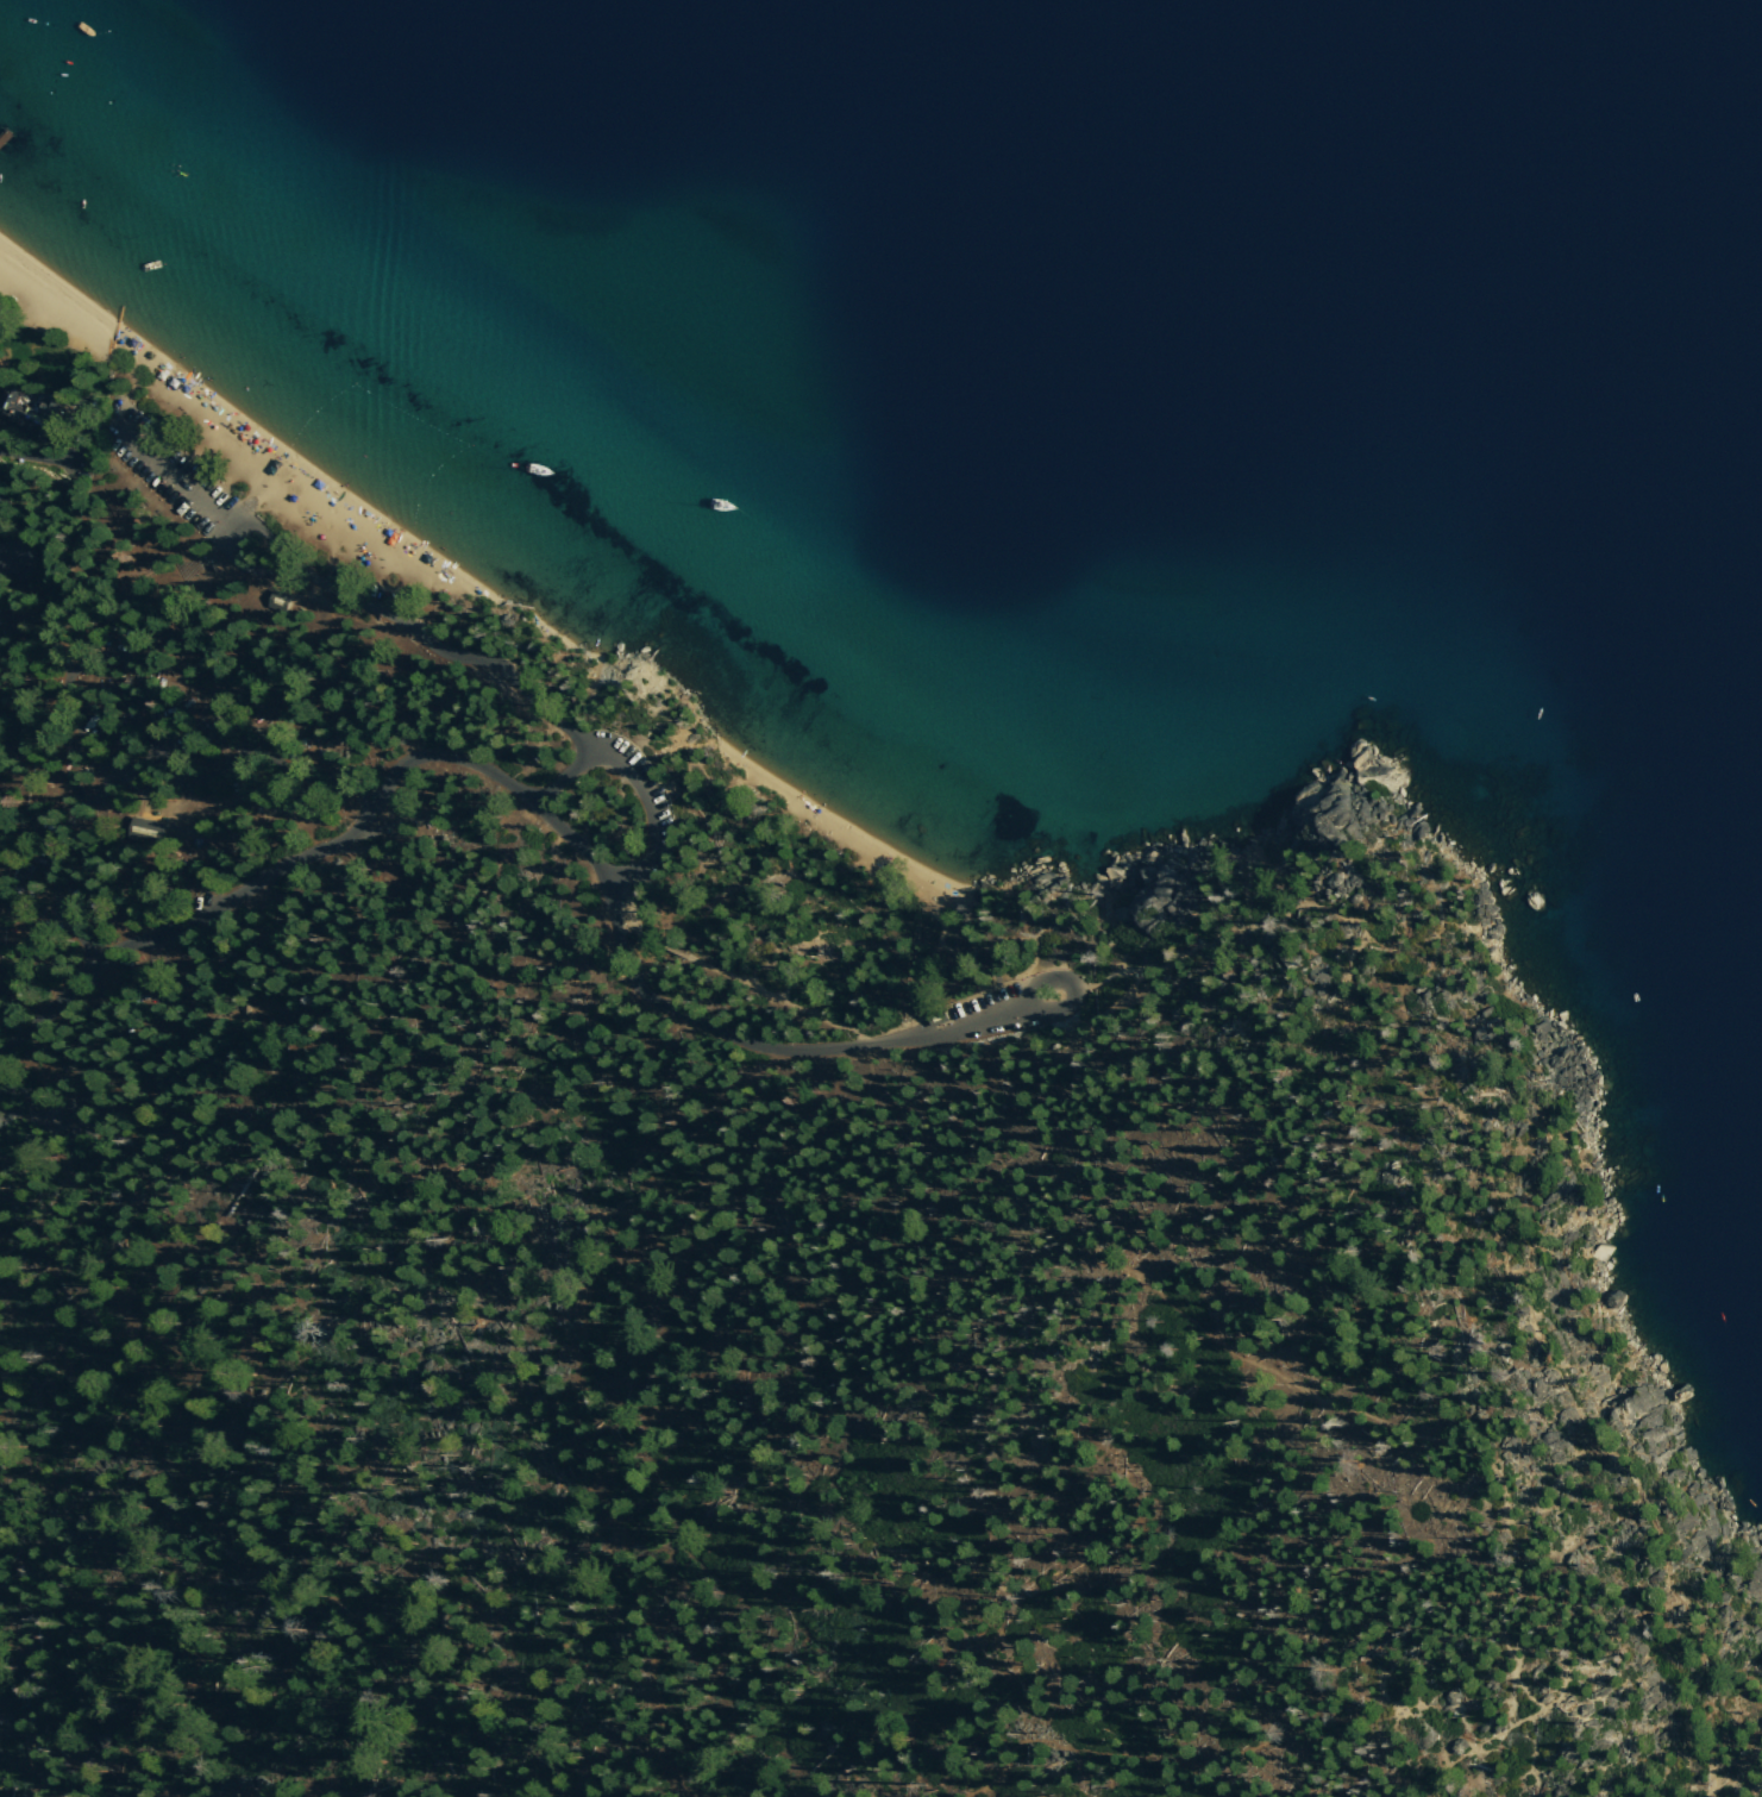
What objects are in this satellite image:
pier: (6, 134)
parking lot: (175, 477)
road: (188, 538)
road: (8, 562)
building: (281, 600)
road: (382, 612)
road: (94, 659)
road: (139, 766)
road: (479, 769)
road: (638, 799)
parking lot: (635, 808)
building: (149, 829)
road: (715, 829)
road: (915, 896)
road: (1027, 938)
road: (742, 973)
road: (1065, 991)
parking lot: (999, 1007)
road: (967, 1018)
road: (1498, 1204)
road: (973, 1241)
road: (1587, 1665)
road: (1304, 1685)
road: (1738, 1774)

